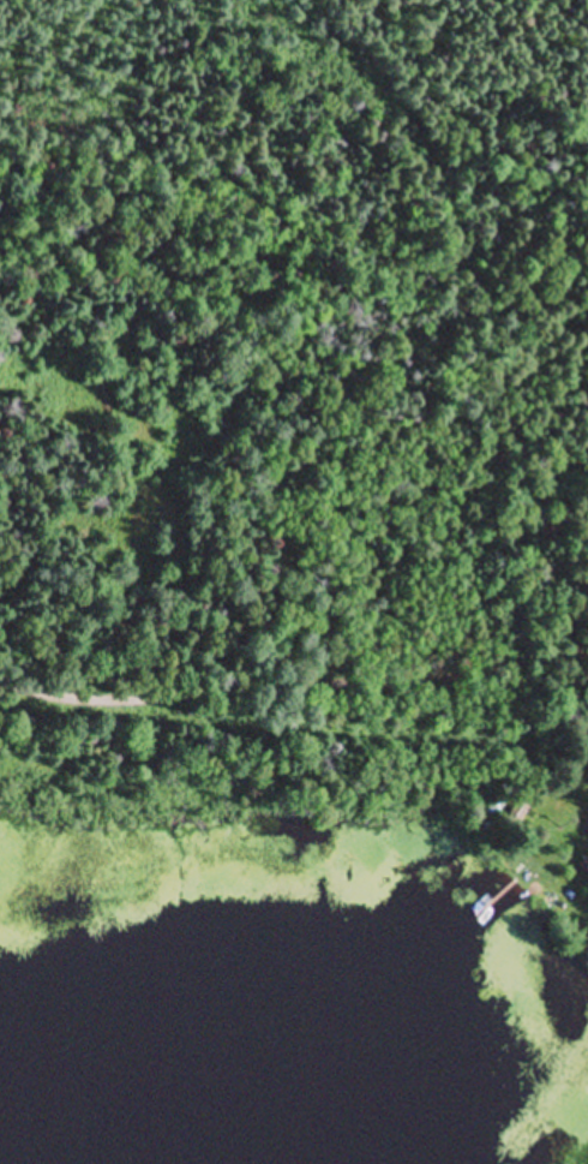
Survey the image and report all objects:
building: (584, 866)

